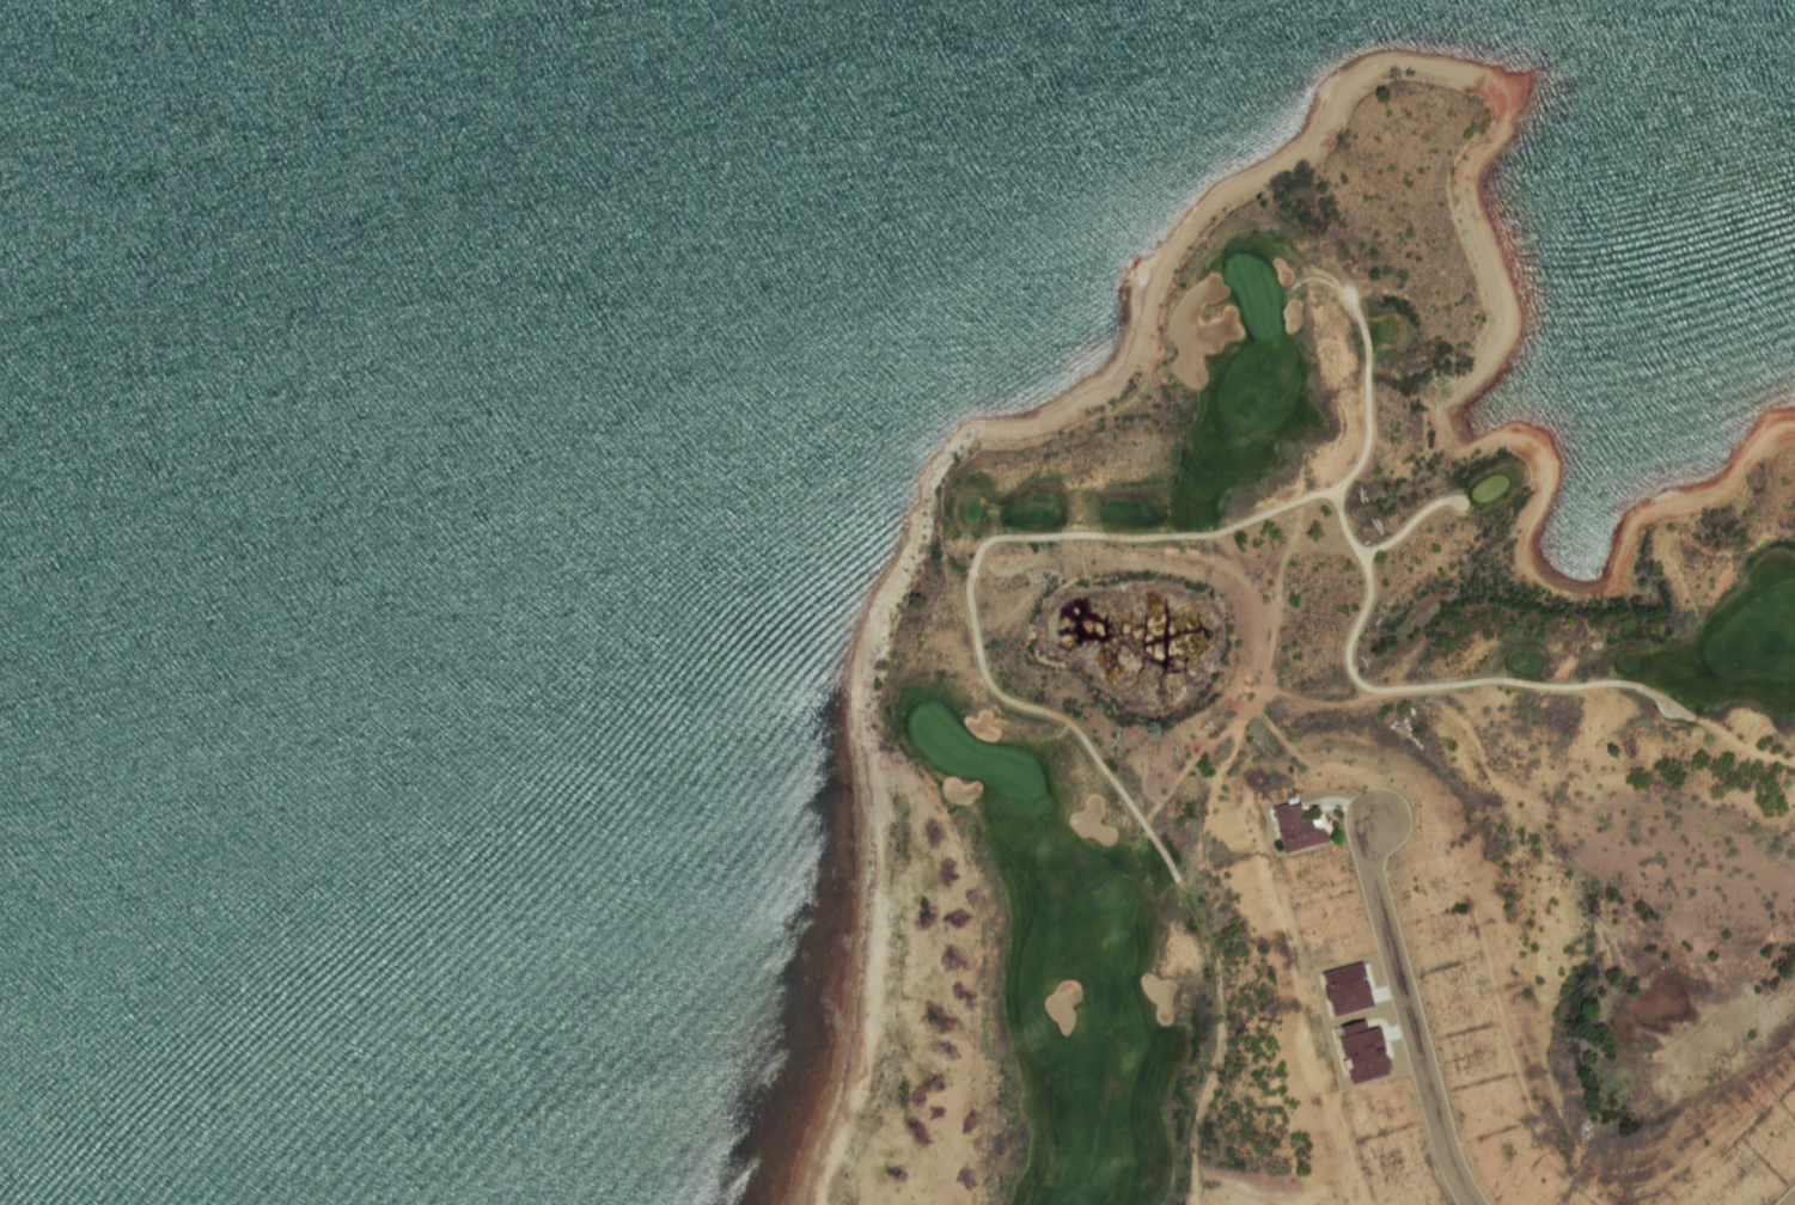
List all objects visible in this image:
river: (62, 27)
road: (1406, 526)
road: (979, 641)
road: (1483, 681)
park: (1329, 771)
building: (1293, 830)
building: (1342, 991)
road: (1406, 1017)
building: (1357, 1053)
road: (1793, 1203)

